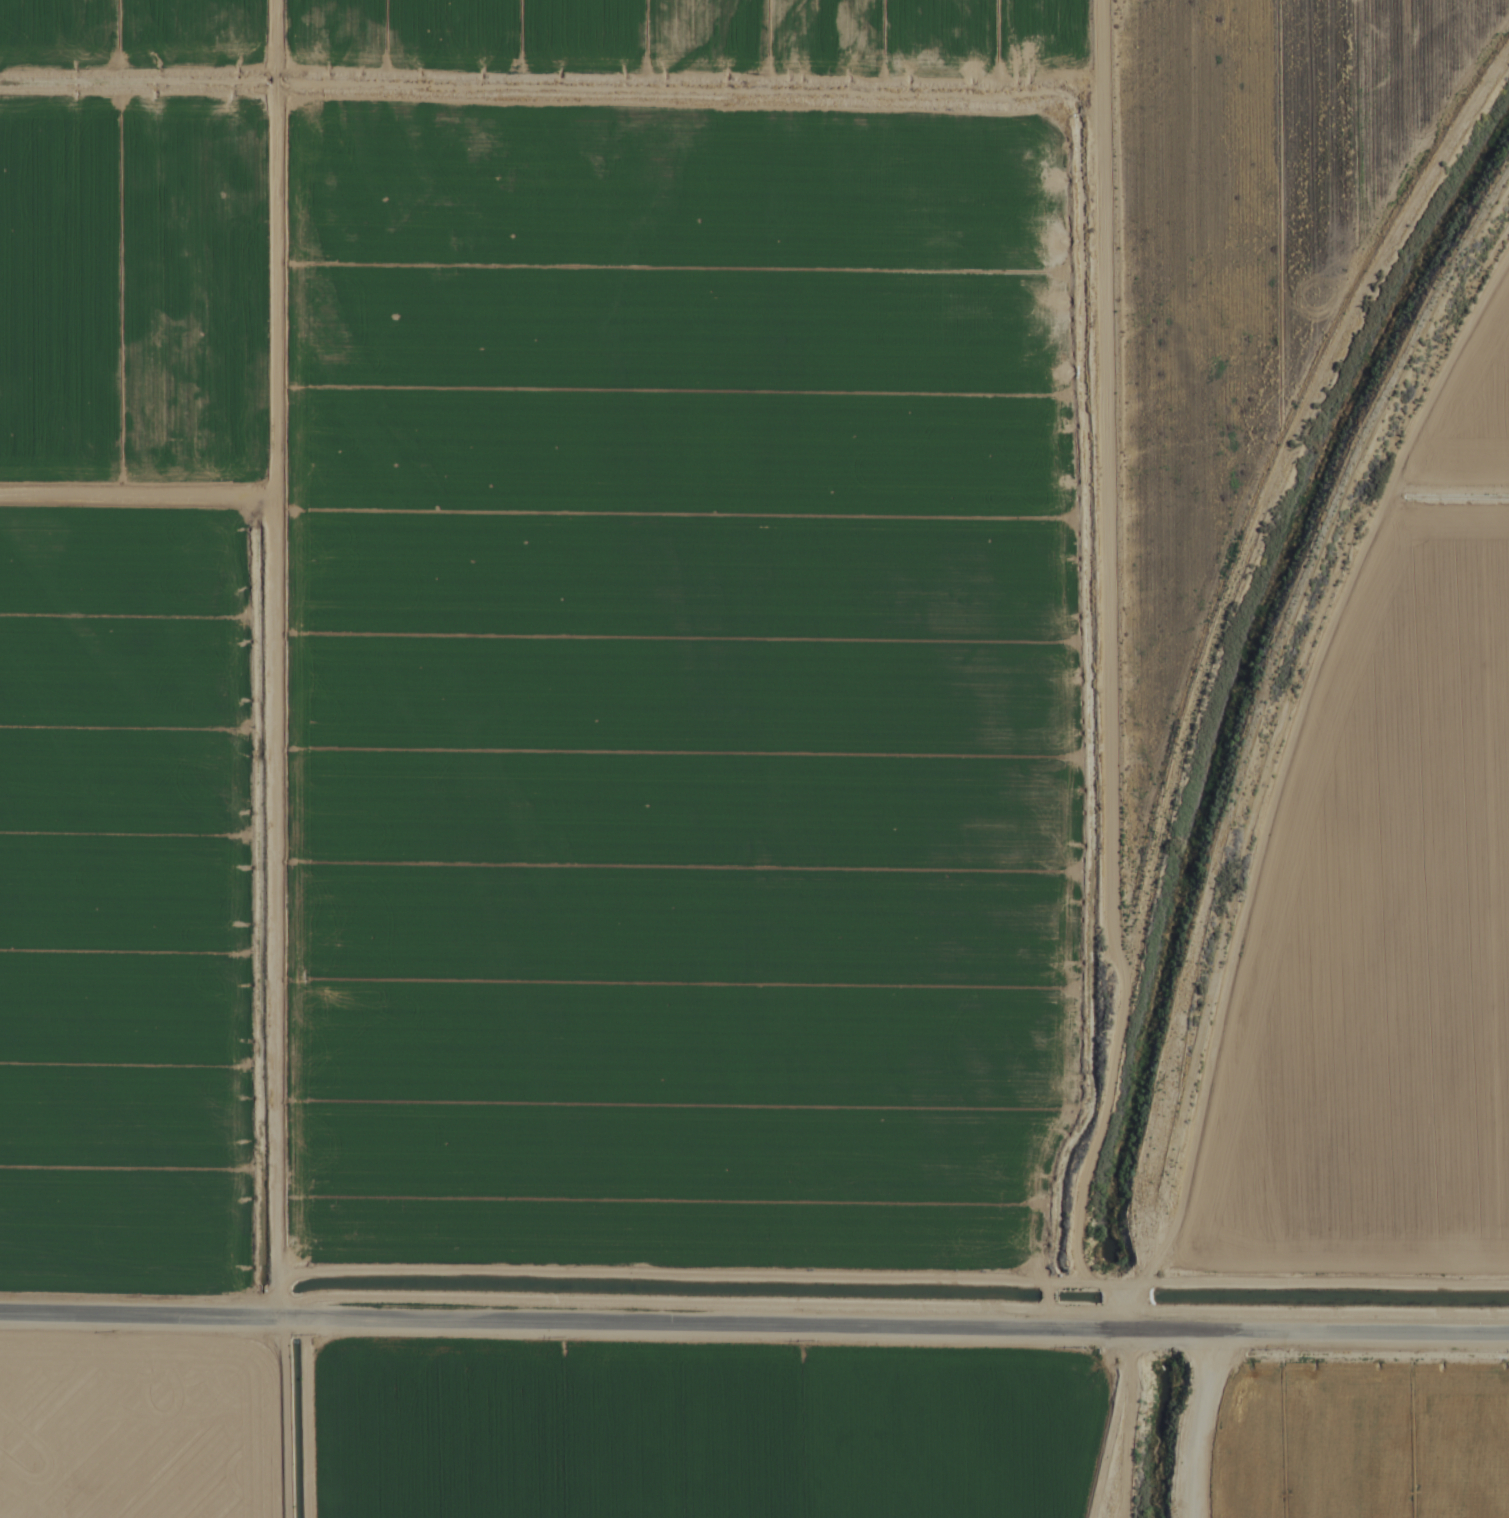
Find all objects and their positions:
crop: (754, 759)
road: (1314, 891)
road: (754, 1326)
road: (348, 1422)

